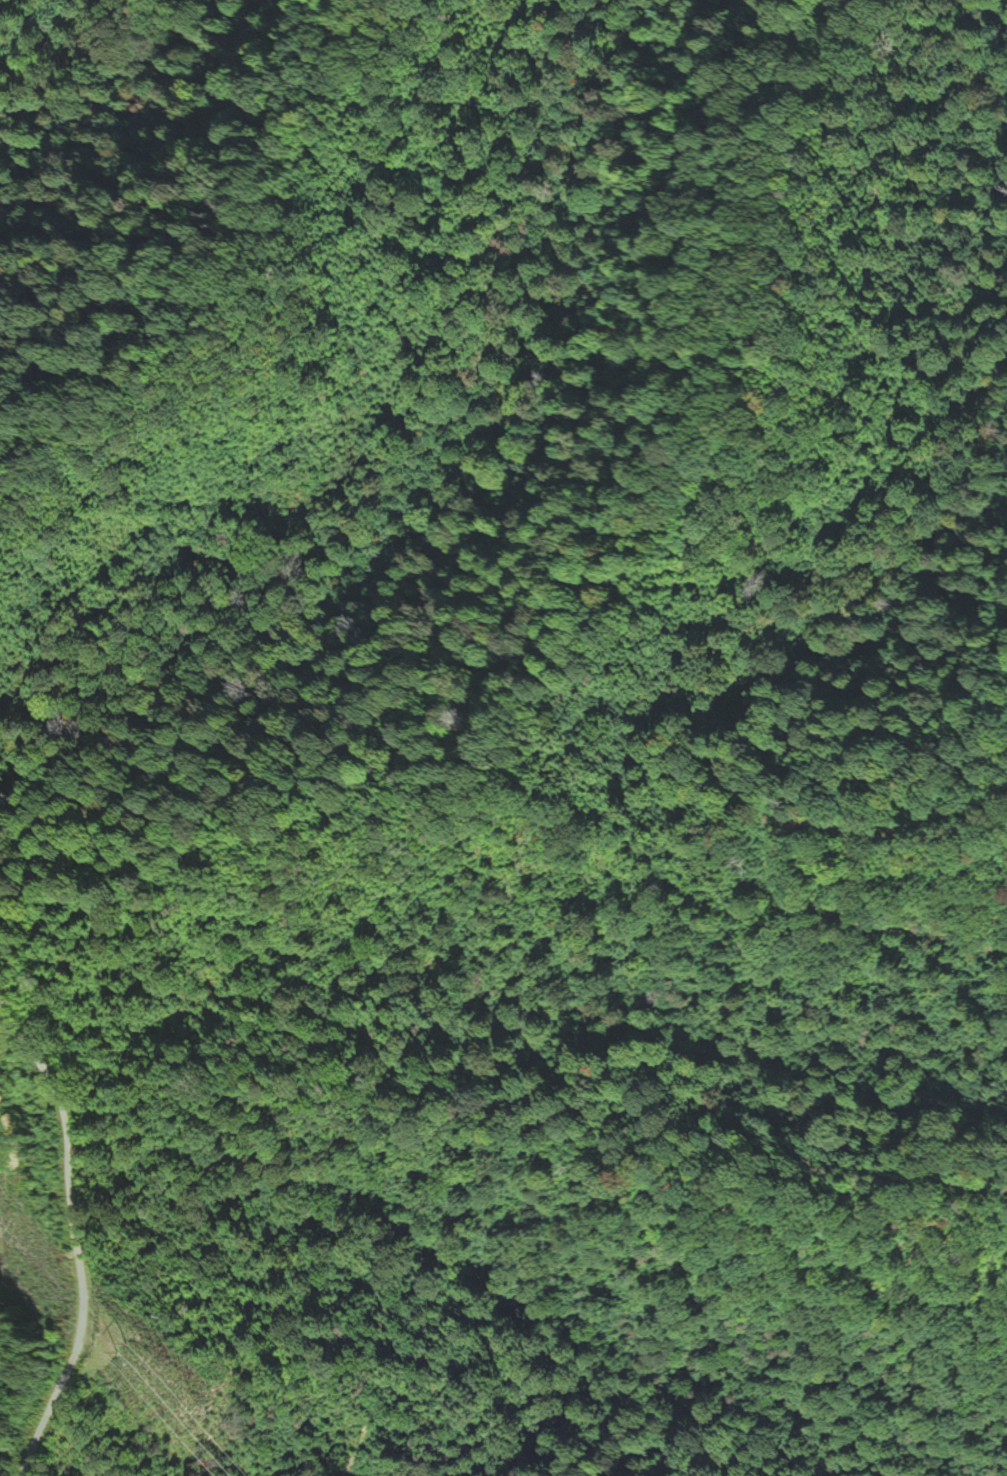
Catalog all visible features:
road: (77, 1238)

